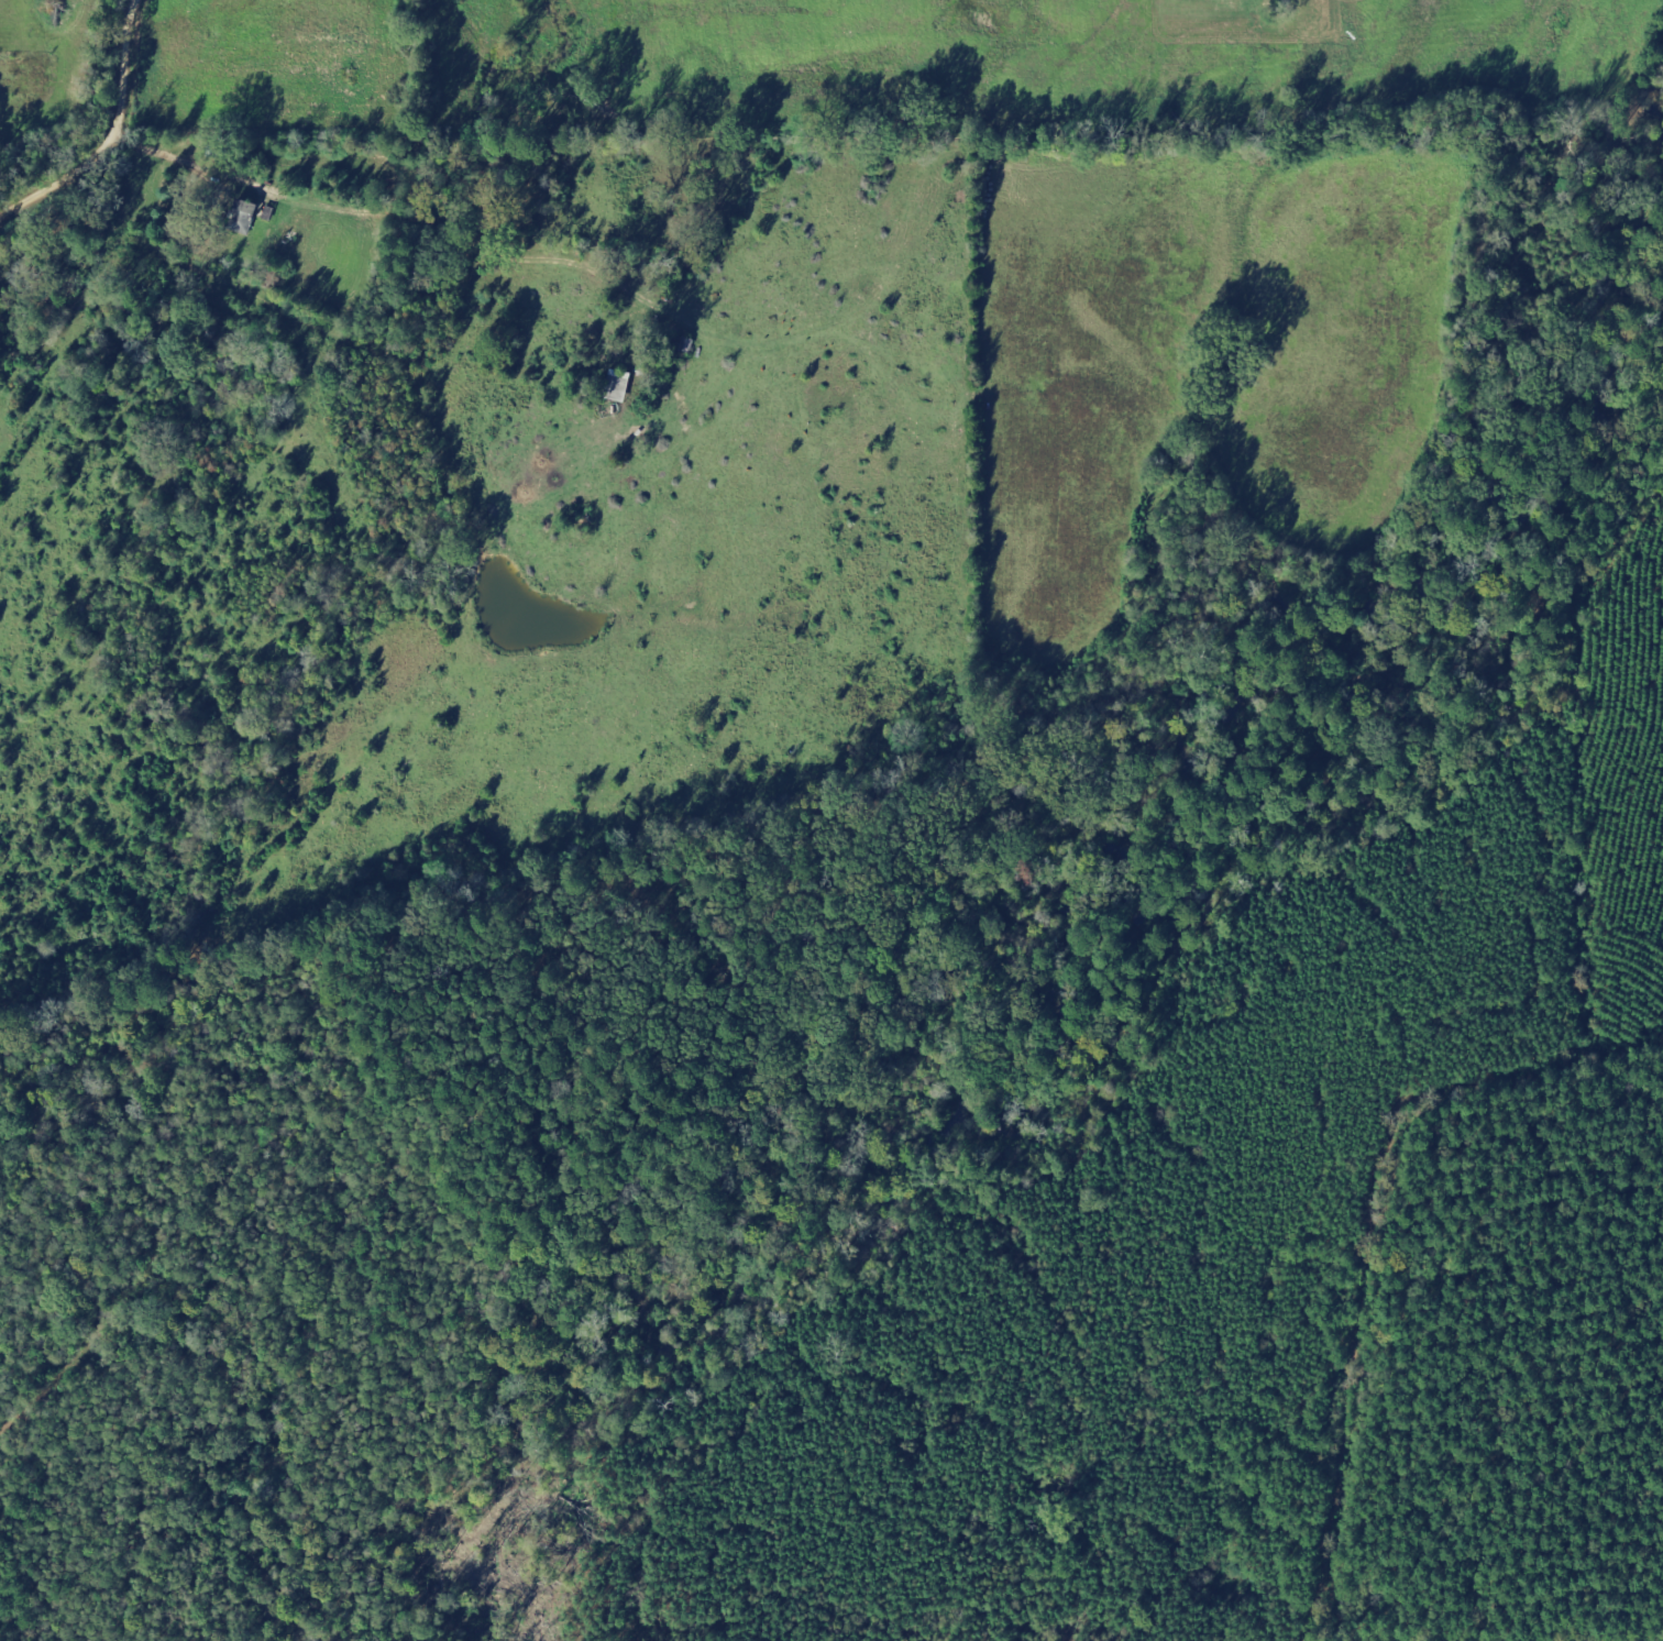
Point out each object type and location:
road: (91, 114)
building: (247, 217)

